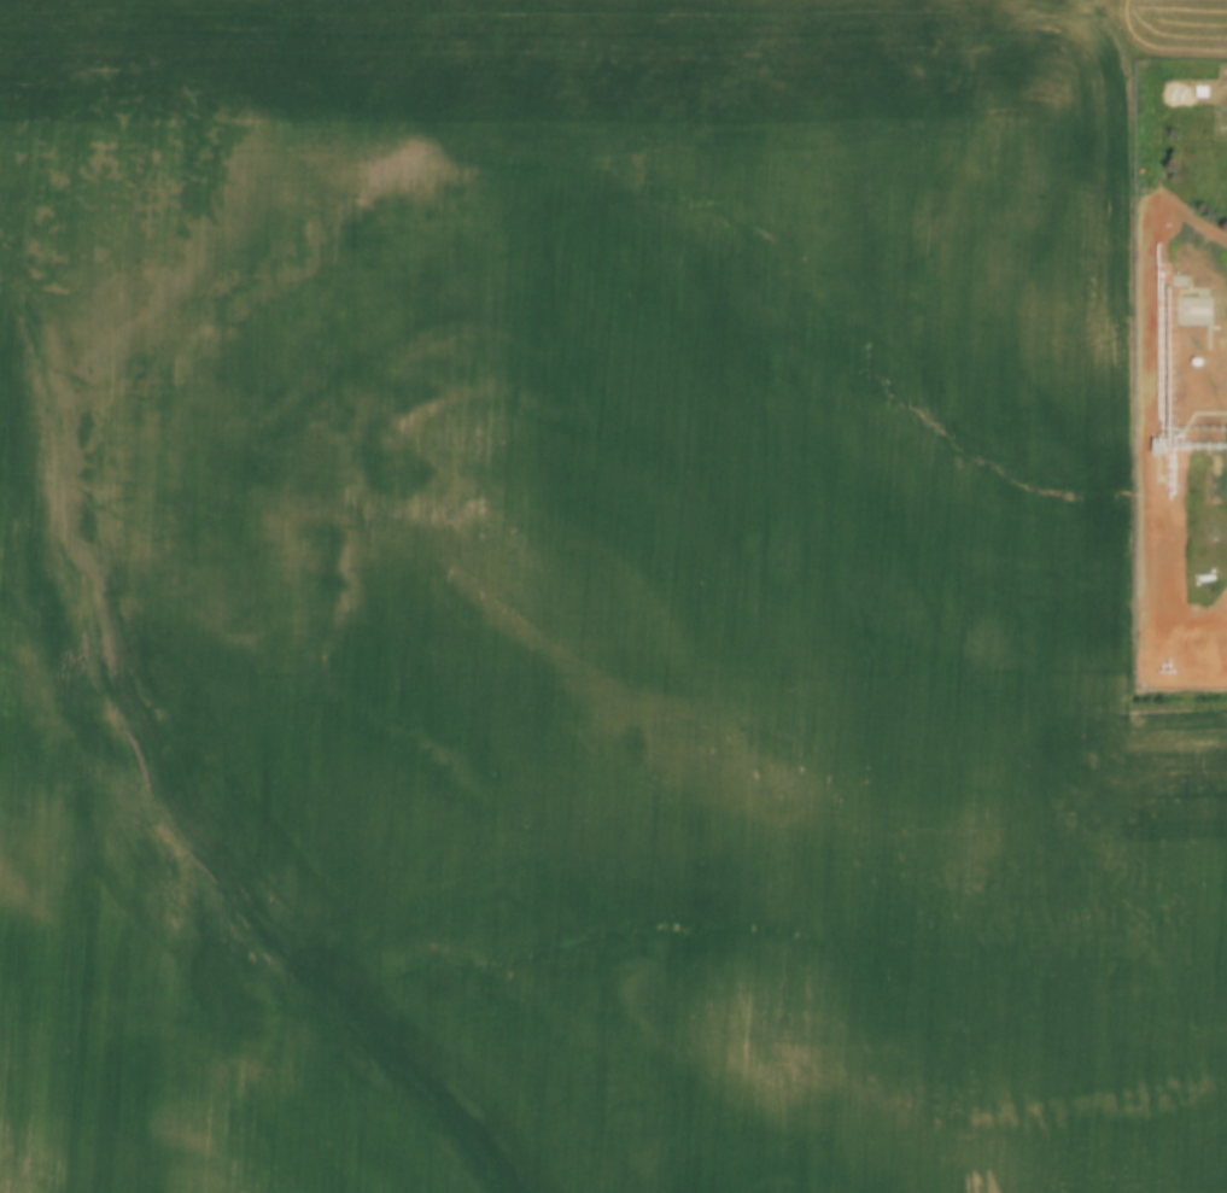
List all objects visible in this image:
building: (1163, 444)

